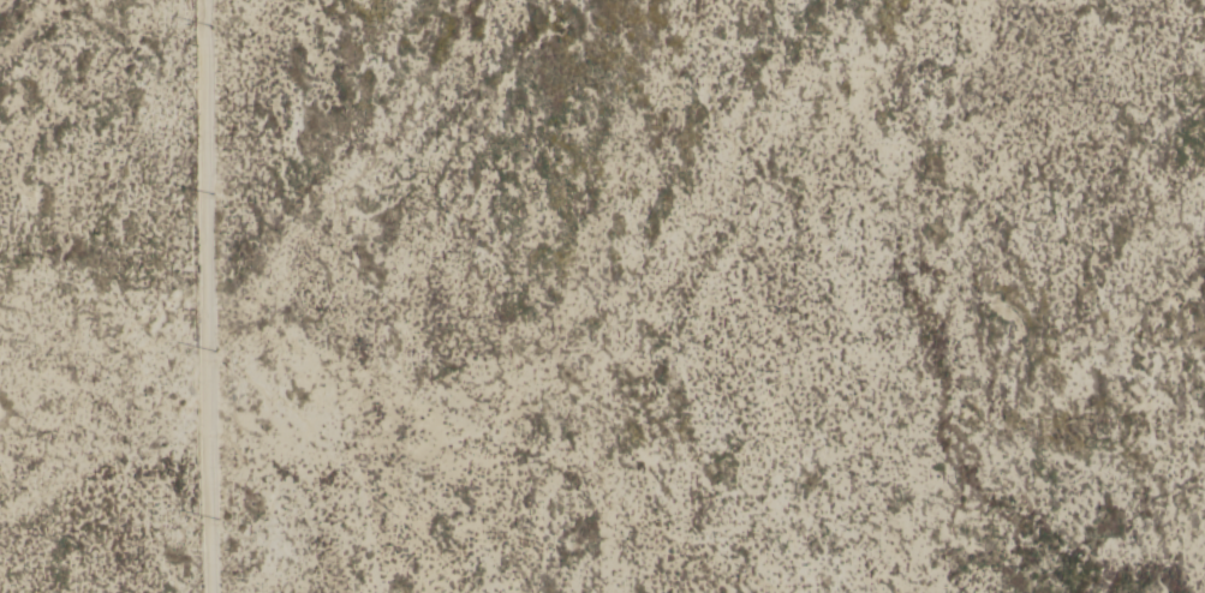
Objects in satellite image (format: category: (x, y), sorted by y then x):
road: (145, 296)
railway: (117, 346)
railway: (109, 360)

